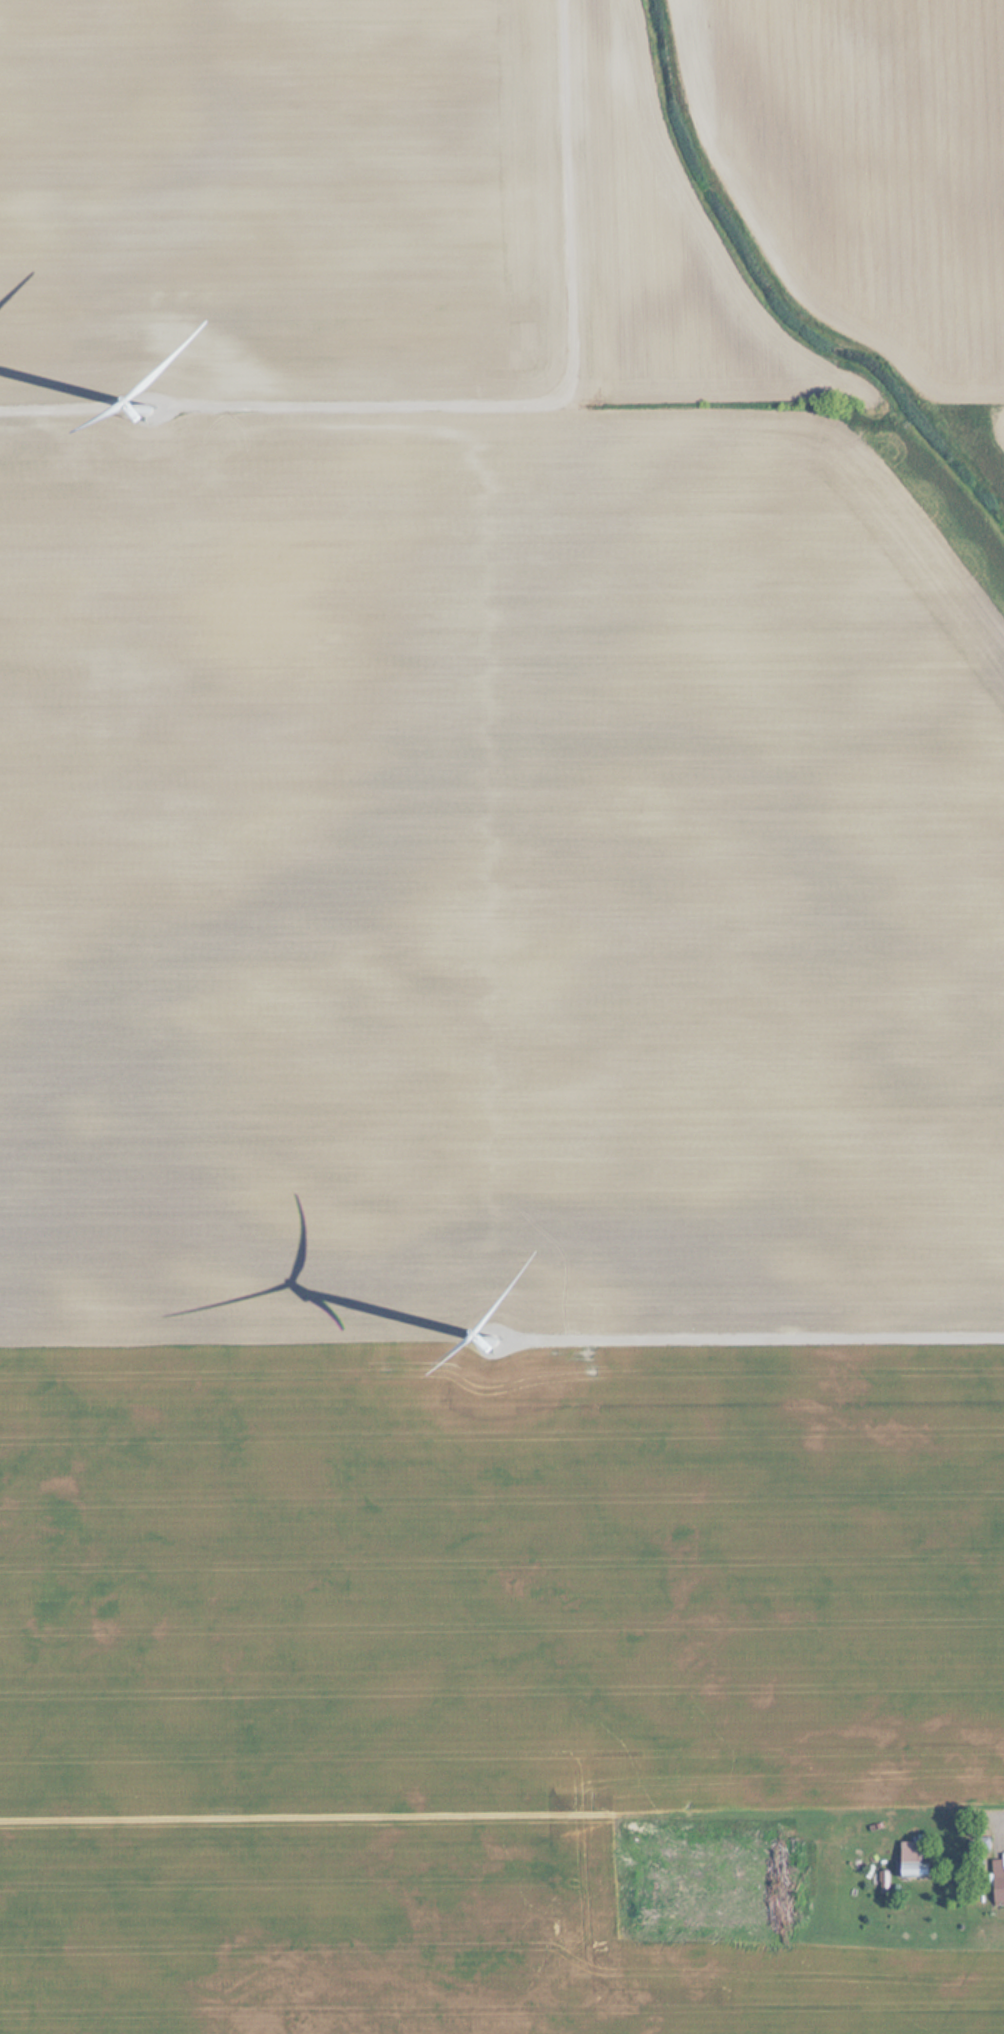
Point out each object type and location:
wind turbine: (133, 413)
wind turbine: (484, 1337)
building: (911, 1860)
building: (998, 1887)

